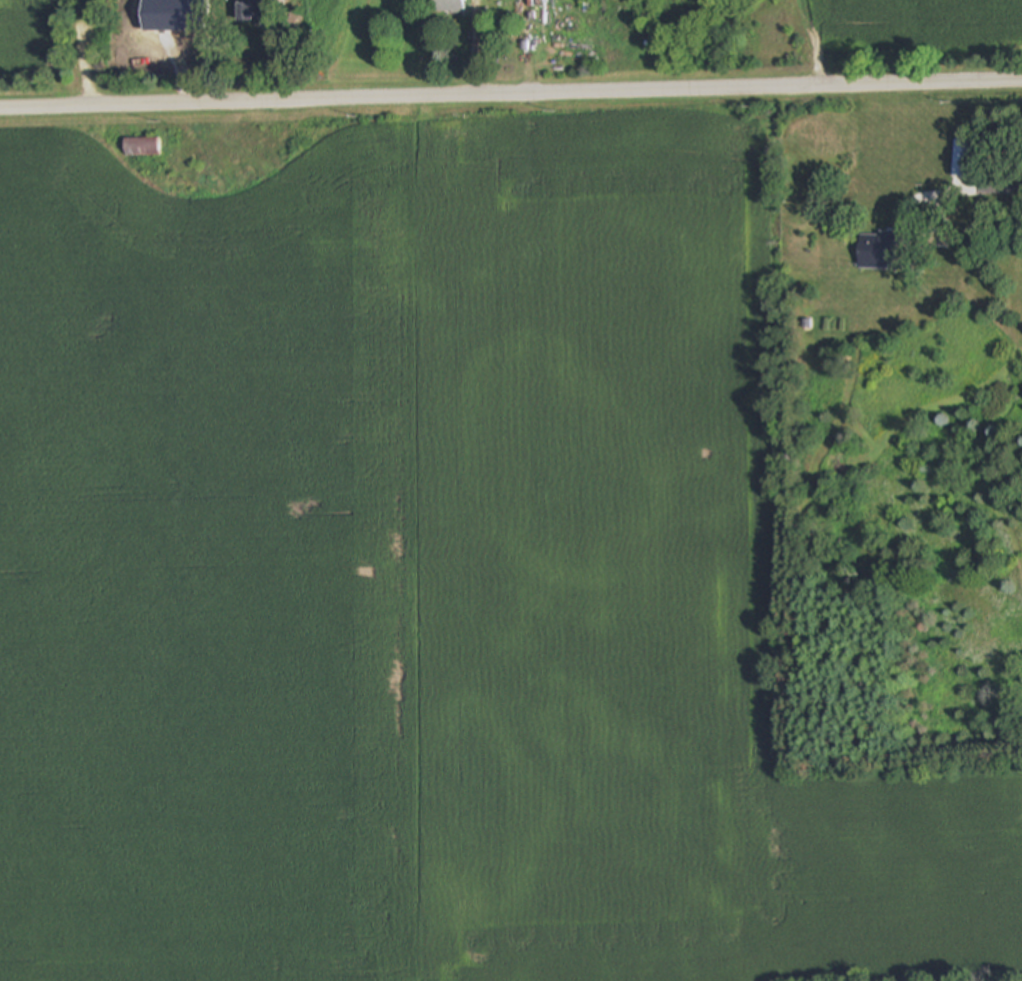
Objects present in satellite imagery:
building: (447, 6)
building: (249, 12)
building: (183, 27)
road: (510, 94)
building: (142, 147)
building: (962, 158)
road: (970, 193)
building: (877, 251)

